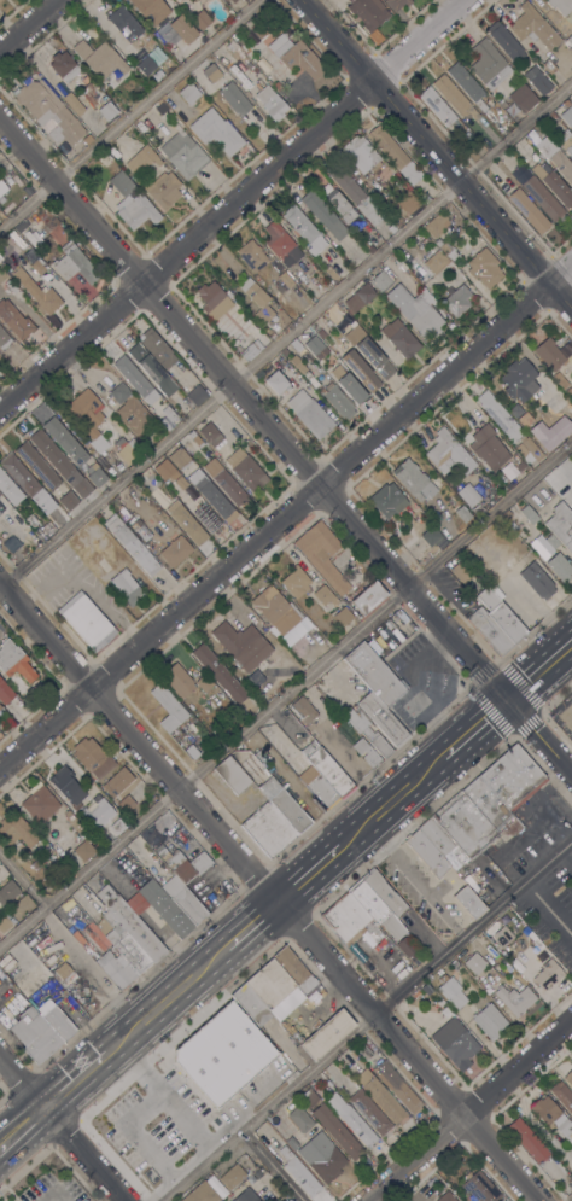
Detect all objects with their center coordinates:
building: (245, 0)
building: (233, 1)
building: (396, 4)
building: (561, 5)
building: (151, 10)
building: (367, 12)
building: (200, 19)
building: (124, 23)
road: (29, 24)
building: (262, 27)
building: (533, 27)
building: (162, 29)
building: (182, 29)
building: (169, 36)
building: (570, 40)
building: (504, 41)
building: (296, 56)
building: (100, 58)
building: (488, 64)
building: (63, 65)
building: (145, 65)
building: (249, 66)
building: (548, 66)
building: (211, 72)
building: (538, 82)
building: (466, 84)
building: (188, 93)
building: (521, 97)
building: (455, 98)
building: (234, 99)
building: (272, 103)
building: (74, 104)
building: (157, 106)
building: (439, 109)
building: (107, 110)
building: (48, 112)
road: (129, 115)
building: (567, 116)
building: (216, 132)
building: (565, 140)
building: (395, 153)
building: (183, 155)
building: (361, 155)
road: (436, 155)
building: (141, 159)
building: (556, 159)
building: (553, 185)
building: (2, 187)
building: (162, 190)
building: (356, 196)
building: (425, 198)
building: (542, 198)
building: (404, 199)
building: (132, 202)
road: (229, 204)
building: (449, 209)
building: (527, 210)
building: (323, 214)
building: (346, 214)
building: (436, 225)
building: (304, 228)
building: (419, 241)
building: (281, 244)
building: (370, 249)
building: (448, 250)
building: (251, 255)
building: (395, 258)
building: (74, 263)
building: (433, 266)
building: (37, 267)
building: (484, 268)
building: (331, 273)
building: (285, 279)
building: (380, 281)
building: (11, 286)
building: (37, 292)
building: (358, 298)
building: (214, 299)
building: (257, 299)
building: (457, 299)
building: (416, 310)
building: (14, 319)
road: (285, 333)
building: (321, 333)
building: (399, 338)
building: (4, 339)
building: (314, 345)
building: (157, 349)
building: (250, 350)
building: (285, 351)
building: (369, 352)
building: (549, 354)
building: (0, 355)
building: (294, 361)
building: (152, 369)
building: (360, 369)
building: (556, 377)
building: (135, 379)
building: (519, 380)
building: (276, 381)
building: (351, 389)
building: (197, 395)
building: (339, 402)
building: (129, 409)
building: (514, 410)
building: (169, 413)
building: (310, 414)
building: (498, 416)
building: (88, 418)
building: (525, 420)
building: (210, 435)
building: (65, 441)
road: (282, 447)
building: (486, 447)
building: (529, 448)
building: (127, 449)
building: (449, 455)
building: (179, 457)
building: (60, 464)
building: (36, 465)
building: (520, 466)
building: (165, 470)
building: (246, 470)
building: (508, 471)
building: (95, 474)
building: (414, 480)
building: (180, 482)
building: (28, 483)
building: (226, 483)
building: (8, 489)
building: (211, 495)
building: (467, 495)
building: (68, 500)
building: (387, 500)
building: (2, 508)
building: (477, 511)
road: (286, 514)
building: (462, 514)
building: (506, 514)
building: (529, 514)
building: (208, 518)
building: (186, 521)
building: (561, 526)
building: (144, 532)
building: (430, 536)
building: (130, 544)
building: (543, 544)
building: (175, 550)
building: (321, 554)
building: (559, 567)
building: (461, 571)
building: (536, 581)
building: (296, 582)
building: (126, 587)
building: (325, 595)
building: (366, 597)
building: (280, 616)
building: (343, 616)
building: (500, 617)
building: (86, 622)
building: (489, 631)
building: (241, 645)
road: (570, 651)
building: (221, 655)
building: (14, 661)
building: (218, 672)
road: (541, 672)
building: (374, 674)
building: (176, 678)
building: (252, 680)
building: (204, 683)
road: (556, 690)
building: (5, 692)
road: (286, 693)
building: (264, 698)
building: (0, 706)
building: (168, 707)
building: (303, 709)
building: (381, 719)
building: (366, 729)
road: (475, 729)
building: (192, 752)
building: (92, 757)
building: (370, 757)
building: (325, 768)
building: (232, 775)
building: (117, 782)
building: (66, 786)
building: (317, 787)
building: (39, 803)
road: (391, 803)
building: (126, 804)
building: (489, 804)
building: (284, 805)
building: (100, 816)
building: (268, 829)
building: (16, 832)
building: (442, 845)
building: (83, 850)
road: (567, 851)
building: (427, 855)
building: (182, 863)
building: (35, 865)
road: (307, 875)
road: (23, 878)
road: (405, 879)
building: (7, 892)
building: (384, 894)
road: (267, 896)
building: (182, 900)
building: (468, 902)
building: (164, 908)
road: (548, 909)
building: (380, 916)
building: (349, 921)
building: (4, 923)
building: (130, 923)
road: (249, 926)
building: (502, 935)
building: (126, 946)
building: (358, 955)
building: (475, 963)
building: (392, 964)
road: (87, 968)
building: (115, 969)
building: (65, 973)
building: (548, 974)
building: (426, 989)
building: (451, 991)
building: (415, 993)
building: (515, 997)
road: (165, 999)
building: (439, 1002)
building: (250, 1004)
building: (275, 1007)
building: (56, 1020)
building: (489, 1020)
road: (367, 1021)
building: (35, 1034)
building: (455, 1043)
building: (363, 1051)
building: (183, 1061)
building: (568, 1078)
road: (75, 1080)
building: (333, 1082)
building: (396, 1086)
building: (379, 1095)
building: (562, 1096)
road: (5, 1097)
building: (308, 1098)
road: (164, 1100)
building: (334, 1102)
road: (468, 1109)
building: (544, 1110)
road: (18, 1113)
building: (370, 1113)
building: (300, 1119)
building: (357, 1126)
road: (60, 1129)
building: (566, 1130)
building: (337, 1131)
road: (25, 1137)
road: (134, 1139)
building: (527, 1141)
building: (292, 1143)
building: (322, 1156)
road: (0, 1162)
road: (274, 1165)
road: (27, 1166)
building: (299, 1172)
building: (232, 1176)
building: (570, 1180)
building: (215, 1184)
building: (479, 1187)
building: (200, 1193)
building: (246, 1196)
building: (445, 1196)
road: (570, 1199)
building: (279, 1200)

